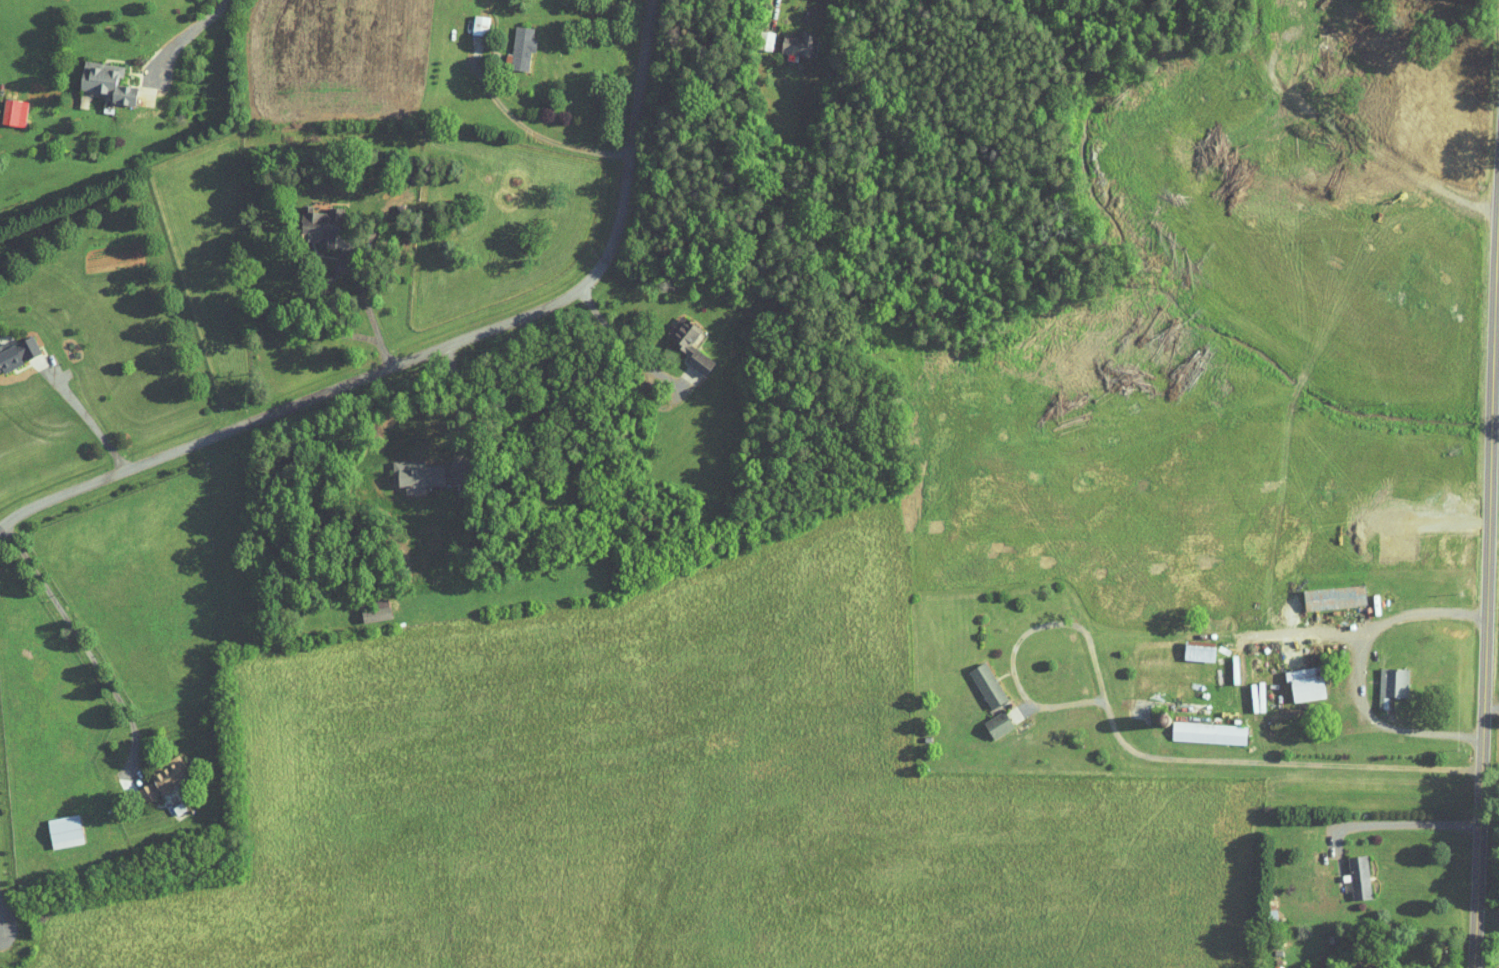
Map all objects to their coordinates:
road: (640, 5)
road: (766, 10)
building: (468, 18)
road: (243, 22)
building: (788, 38)
building: (509, 42)
road: (188, 48)
building: (95, 76)
building: (7, 106)
road: (521, 126)
road: (1370, 136)
building: (310, 219)
road: (338, 266)
building: (678, 338)
building: (12, 344)
road: (432, 348)
road: (648, 367)
road: (73, 397)
road: (458, 405)
building: (404, 469)
road: (1487, 590)
building: (1323, 591)
building: (365, 605)
road: (1453, 610)
road: (83, 644)
building: (1188, 645)
building: (1295, 677)
building: (976, 679)
building: (1381, 679)
road: (1365, 705)
building: (987, 718)
building: (1197, 727)
road: (1133, 750)
building: (156, 768)
building: (135, 787)
road: (1490, 800)
road: (1408, 822)
building: (53, 825)
building: (1348, 872)
road: (1488, 948)
building: (1344, 966)

